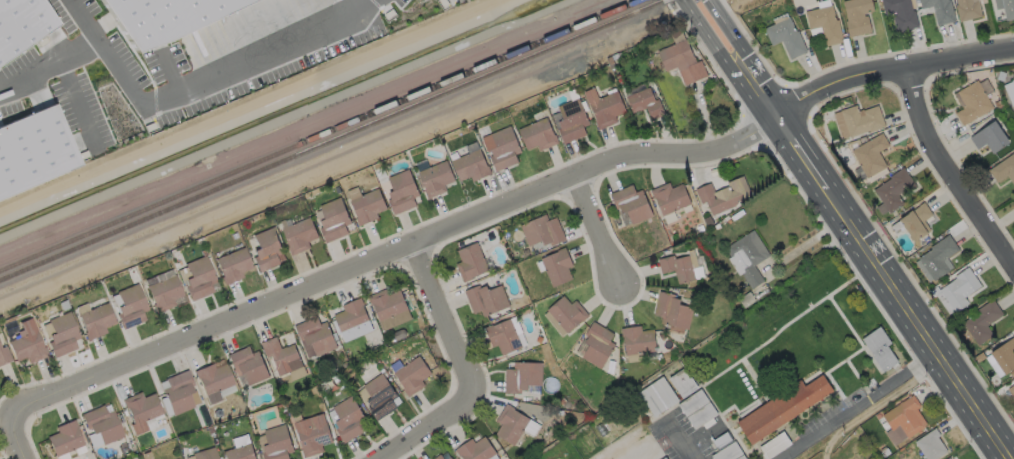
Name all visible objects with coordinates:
building: (1008, 9)
building: (941, 10)
building: (968, 10)
building: (902, 14)
building: (157, 16)
building: (859, 17)
road: (85, 19)
building: (20, 21)
building: (826, 25)
building: (787, 38)
road: (739, 39)
road: (715, 45)
building: (616, 58)
building: (611, 61)
building: (683, 62)
building: (1013, 82)
road: (167, 95)
building: (646, 104)
building: (973, 104)
building: (999, 106)
building: (605, 108)
building: (863, 121)
building: (573, 122)
railway: (319, 135)
building: (539, 136)
building: (990, 138)
railway: (334, 143)
building: (855, 144)
building: (503, 149)
building: (34, 152)
building: (872, 156)
road: (952, 164)
building: (472, 167)
building: (1004, 170)
building: (437, 179)
building: (895, 190)
building: (314, 192)
building: (403, 193)
building: (724, 196)
building: (671, 198)
road: (510, 203)
building: (1013, 204)
building: (632, 205)
building: (369, 207)
building: (335, 221)
building: (915, 223)
road: (596, 230)
building: (544, 232)
building: (235, 236)
building: (300, 236)
road: (806, 242)
building: (267, 251)
building: (749, 258)
building: (939, 258)
building: (471, 263)
building: (177, 265)
building: (233, 266)
building: (558, 268)
building: (679, 269)
road: (884, 271)
building: (199, 279)
building: (961, 290)
building: (165, 294)
building: (413, 300)
building: (487, 300)
building: (748, 300)
building: (389, 305)
building: (64, 306)
building: (131, 307)
building: (673, 311)
building: (568, 314)
building: (352, 318)
building: (97, 322)
building: (983, 322)
road: (449, 323)
building: (63, 336)
building: (317, 336)
building: (504, 337)
building: (663, 337)
building: (639, 341)
building: (28, 345)
building: (598, 345)
building: (881, 349)
building: (348, 352)
building: (280, 355)
building: (4, 356)
building: (982, 356)
building: (1005, 357)
road: (922, 359)
building: (249, 365)
building: (346, 365)
building: (382, 370)
building: (1013, 373)
building: (414, 376)
building: (523, 377)
building: (213, 382)
building: (684, 383)
building: (1012, 391)
building: (179, 393)
building: (381, 397)
building: (659, 397)
building: (563, 402)
road: (882, 402)
building: (694, 403)
building: (280, 407)
building: (321, 407)
building: (783, 409)
building: (141, 411)
building: (560, 413)
road: (840, 413)
building: (218, 414)
building: (702, 416)
building: (349, 420)
building: (905, 421)
building: (103, 425)
building: (511, 425)
road: (423, 431)
road: (21, 433)
building: (314, 435)
building: (65, 439)
road: (676, 440)
building: (723, 441)
building: (214, 443)
building: (278, 443)
building: (931, 445)
building: (775, 446)
building: (194, 450)
building: (476, 450)
building: (241, 452)
building: (730, 453)
building: (886, 453)
building: (205, 454)
road: (824, 455)
building: (146, 456)
building: (440, 457)
building: (450, 458)
building: (665, 458)

